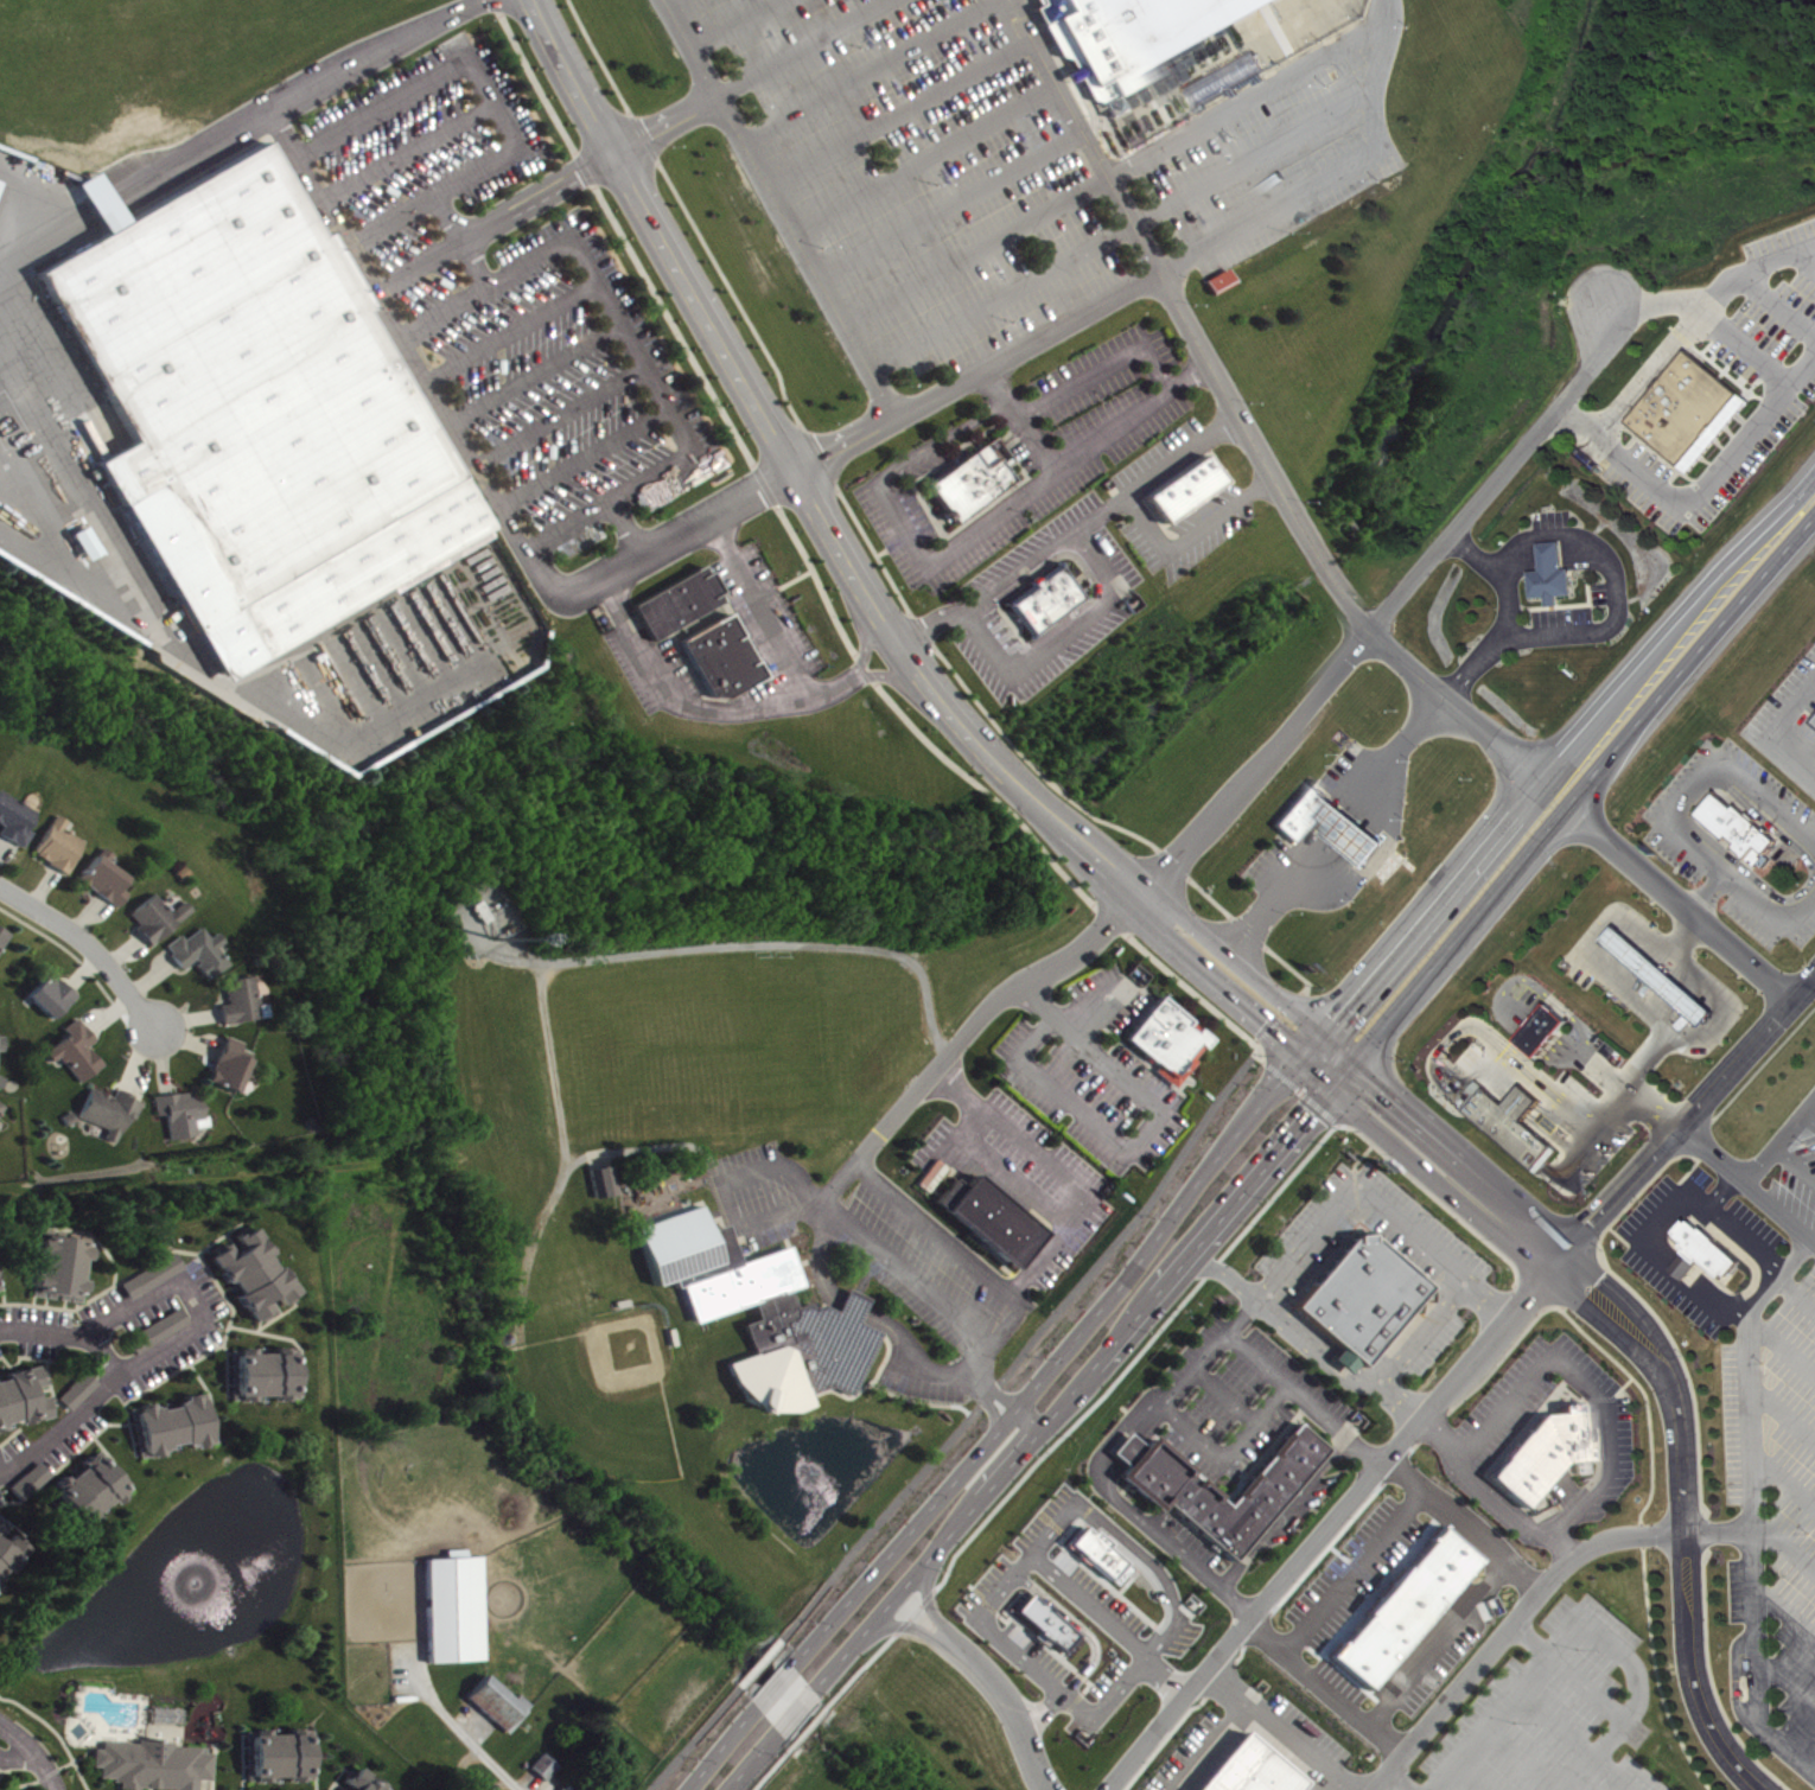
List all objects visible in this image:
road: (668, 1)
road: (738, 25)
building: (1131, 36)
road: (802, 49)
road: (864, 70)
building: (1240, 78)
road: (1253, 94)
road: (295, 97)
road: (495, 103)
road: (898, 113)
road: (667, 123)
road: (408, 151)
road: (923, 158)
parking lot: (1006, 171)
road: (1293, 196)
road: (948, 203)
road: (778, 206)
road: (1152, 209)
road: (495, 219)
road: (463, 238)
road: (975, 251)
road: (1804, 257)
road: (1750, 270)
building: (1224, 286)
road: (1650, 302)
parking lot: (502, 304)
road: (1779, 304)
road: (512, 332)
road: (632, 346)
road: (1737, 351)
road: (1645, 370)
road: (535, 371)
road: (977, 371)
road: (1184, 375)
parking lot: (1715, 387)
building: (260, 399)
building: (1682, 406)
road: (560, 414)
road: (1020, 418)
road: (1242, 418)
road: (935, 438)
road: (1087, 446)
parking lot: (1033, 452)
road: (584, 456)
parking lot: (1161, 458)
road: (480, 472)
building: (967, 484)
road: (1696, 485)
building: (1182, 486)
road: (1100, 510)
road: (626, 529)
parking lot: (1187, 529)
road: (1190, 533)
road: (872, 546)
building: (1555, 577)
road: (1619, 582)
building: (1043, 598)
building: (675, 600)
parking lot: (1046, 600)
road: (764, 609)
road: (1510, 614)
parking lot: (764, 620)
road: (929, 623)
road: (1679, 624)
building: (719, 655)
road: (1692, 658)
parking lot: (650, 665)
road: (726, 715)
road: (1425, 722)
road: (1775, 733)
road: (1693, 789)
building: (13, 817)
road: (1214, 818)
building: (1738, 826)
building: (1333, 827)
parking lot: (1342, 832)
road: (2, 841)
building: (56, 843)
building: (102, 878)
road: (43, 886)
road: (1679, 900)
road: (1765, 906)
road: (87, 913)
road: (1167, 913)
building: (153, 916)
road: (1122, 929)
road: (1257, 931)
building: (5, 943)
road: (89, 943)
road: (749, 943)
road: (123, 949)
building: (196, 950)
road: (81, 962)
building: (1660, 973)
gas station: (1660, 973)
road: (151, 976)
road: (1305, 987)
road: (1631, 989)
building: (49, 994)
building: (236, 999)
road: (108, 1012)
road: (1521, 1012)
road: (1280, 1014)
road: (185, 1017)
road: (1515, 1019)
road: (1543, 1026)
building: (1541, 1028)
road: (1030, 1033)
road: (1537, 1033)
road: (185, 1037)
building: (1166, 1038)
road: (1257, 1040)
road: (1530, 1040)
road: (1567, 1043)
building: (4, 1047)
traffic signals: (1312, 1047)
building: (74, 1049)
road: (1552, 1050)
road: (1564, 1051)
road: (138, 1056)
road: (163, 1058)
road: (555, 1063)
building: (225, 1064)
road: (1529, 1069)
parking lot: (1089, 1071)
road: (1636, 1071)
traffic signals: (1342, 1072)
road: (1632, 1090)
building: (108, 1107)
building: (178, 1109)
building: (2, 1113)
building: (69, 1114)
road: (1158, 1117)
road: (1808, 1117)
building: (1509, 1119)
road: (1503, 1129)
road: (1779, 1139)
road: (1219, 1149)
road: (1794, 1162)
road: (1001, 1167)
road: (1061, 1172)
parking lot: (1785, 1173)
parking lot: (1036, 1177)
road: (1255, 1177)
building: (604, 1186)
road: (1375, 1203)
building: (988, 1216)
parking lot: (1425, 1240)
building: (1701, 1249)
building: (58, 1261)
road: (970, 1263)
building: (248, 1266)
building: (149, 1272)
parking lot: (935, 1272)
road: (1224, 1273)
road: (911, 1275)
building: (157, 1280)
road: (1795, 1293)
building: (0, 1295)
building: (1359, 1297)
road: (851, 1300)
building: (759, 1310)
road: (110, 1320)
building: (155, 1324)
road: (1422, 1330)
building: (163, 1334)
road: (1781, 1342)
road: (1314, 1346)
road: (1025, 1348)
road: (1210, 1351)
road: (108, 1352)
road: (1134, 1356)
building: (1351, 1365)
building: (260, 1368)
road: (948, 1370)
road: (1453, 1377)
road: (108, 1386)
building: (75, 1388)
building: (23, 1390)
road: (1225, 1394)
parking lot: (1240, 1396)
road: (1304, 1397)
road: (1592, 1397)
parking lot: (1508, 1402)
road: (1504, 1406)
road: (1550, 1408)
road: (1783, 1415)
building: (168, 1419)
road: (1529, 1420)
road: (1147, 1421)
road: (1530, 1421)
road: (1606, 1429)
building: (1575, 1431)
road: (1123, 1446)
road: (1507, 1448)
road: (1228, 1452)
building: (1530, 1458)
fountain: (810, 1460)
road: (1098, 1460)
road: (1496, 1463)
road: (1109, 1470)
road: (1471, 1477)
road: (1784, 1479)
building: (34, 1485)
building: (85, 1485)
building: (1171, 1488)
parking lot: (1775, 1499)
road: (1750, 1505)
road: (1282, 1509)
road: (1756, 1530)
road: (1566, 1544)
building: (1090, 1554)
building: (11, 1556)
road: (1202, 1571)
road: (868, 1576)
fountain: (195, 1579)
road: (897, 1592)
road: (926, 1594)
road: (928, 1595)
building: (448, 1605)
road: (915, 1610)
road: (1785, 1612)
parking lot: (1005, 1622)
road: (902, 1624)
building: (1039, 1624)
road: (1107, 1624)
road: (902, 1626)
road: (988, 1626)
road: (1076, 1626)
road: (1507, 1626)
road: (809, 1644)
road: (839, 1660)
road: (759, 1661)
road: (862, 1663)
road: (1567, 1671)
road: (1787, 1680)
road: (771, 1687)
road: (800, 1703)
building: (486, 1705)
road: (1007, 1707)
road: (1083, 1709)
parking lot: (1550, 1715)
road: (811, 1720)
road: (1489, 1721)
road: (1616, 1728)
road: (694, 1737)
building: (273, 1748)
road: (718, 1750)
road: (32, 1752)
road: (752, 1758)
building: (149, 1760)
building: (539, 1762)
road: (770, 1767)
building: (548, 1771)
road: (1615, 1771)
building: (362, 1778)
road: (1400, 1779)
building: (562, 1786)
building: (394, 1789)

